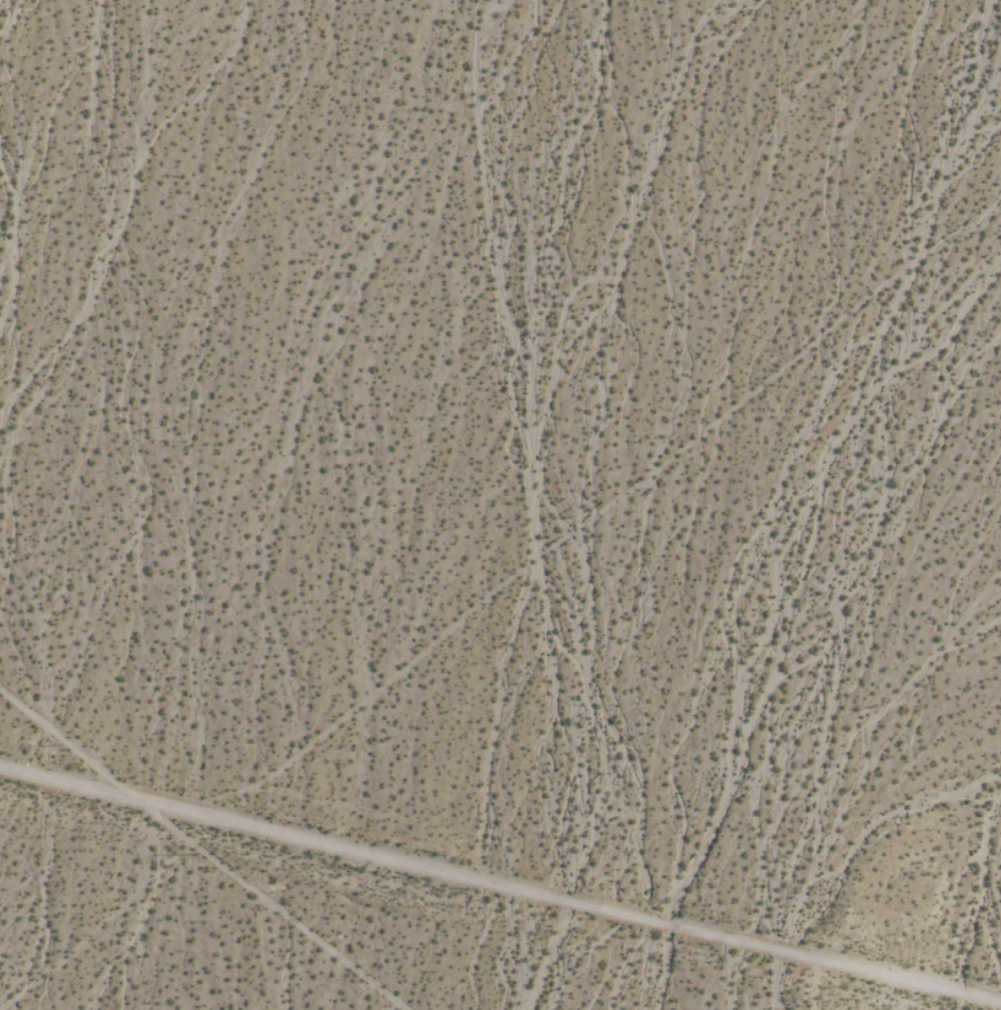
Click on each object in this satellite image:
road: (500, 876)

